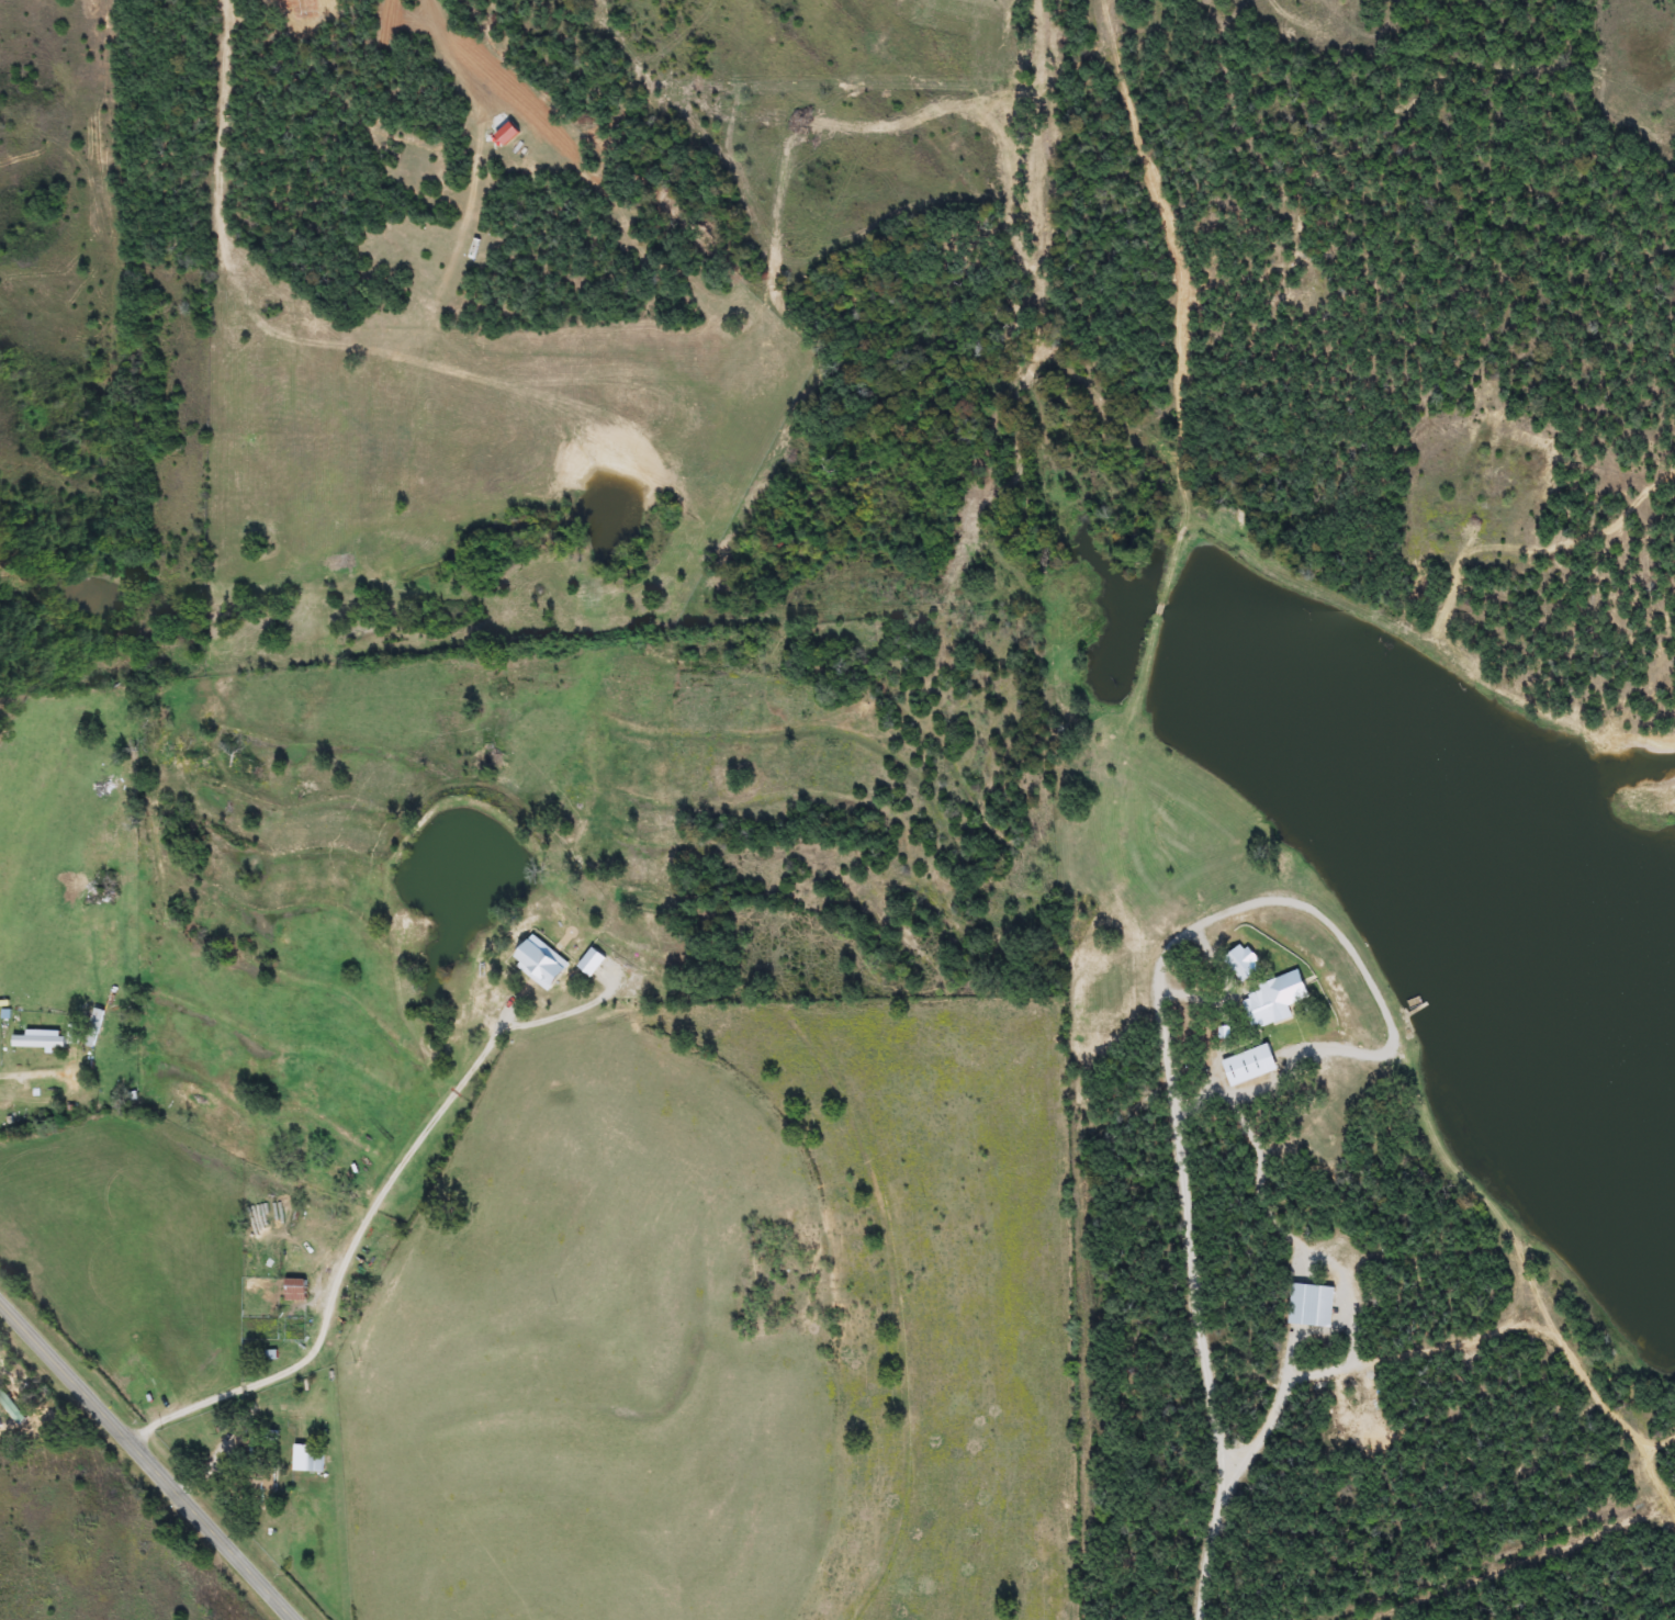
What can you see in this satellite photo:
road: (1336, 927)
building: (1243, 960)
road: (1228, 990)
building: (1267, 1004)
building: (37, 1042)
road: (1221, 1046)
building: (1245, 1067)
road: (24, 1082)
building: (5, 1106)
road: (366, 1220)
road: (1344, 1280)
building: (295, 1289)
building: (1311, 1304)
road: (1203, 1347)
building: (306, 1458)
road: (146, 1462)
building: (267, 1483)

